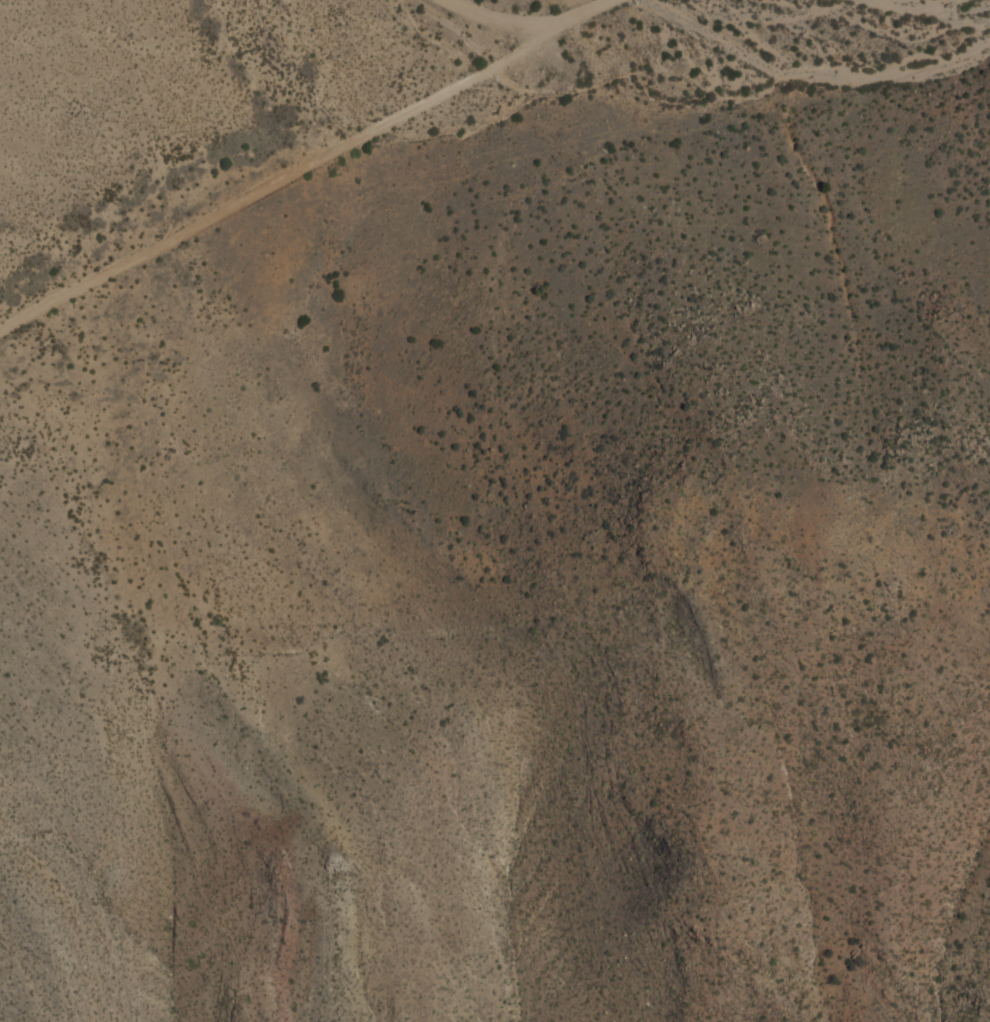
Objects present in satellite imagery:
road: (527, 26)
road: (287, 178)

